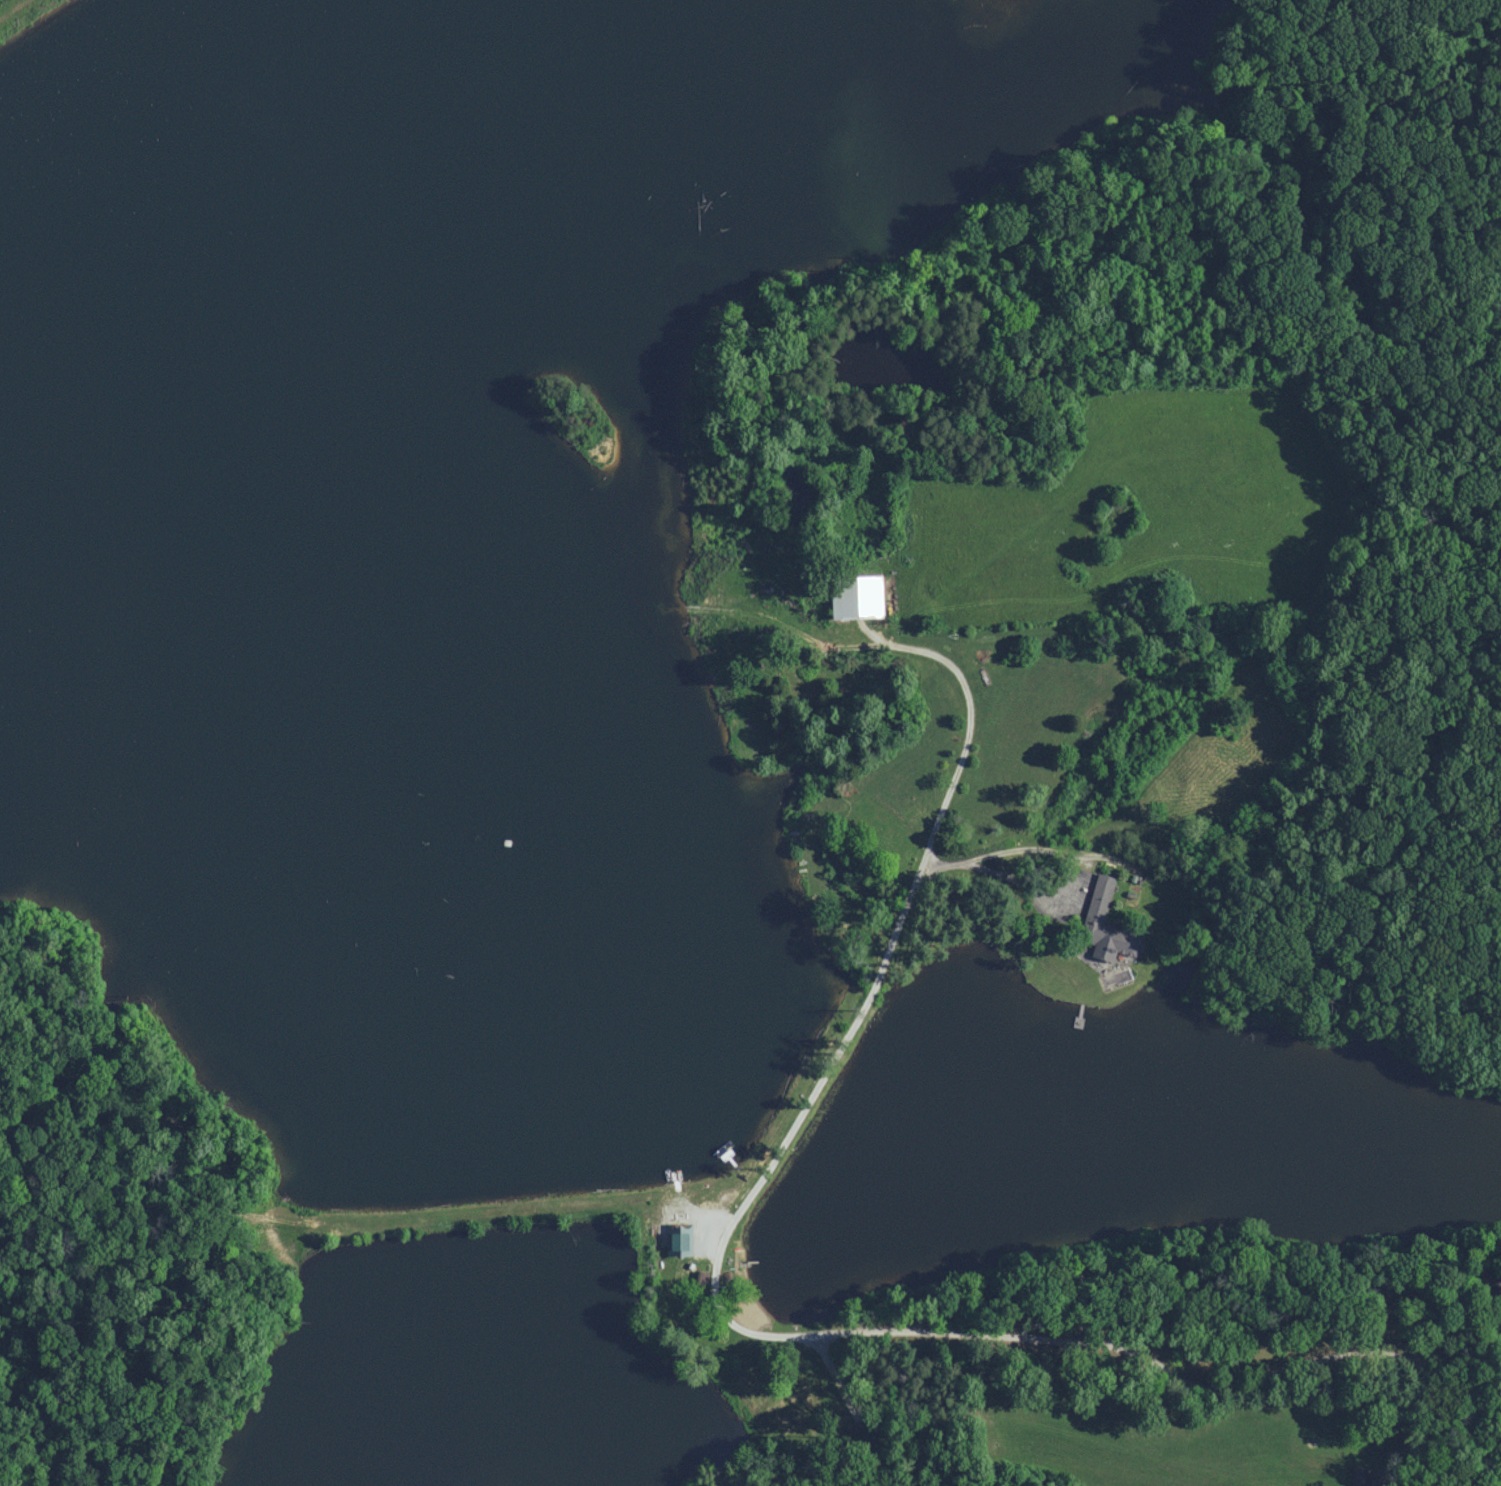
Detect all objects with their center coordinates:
building: (851, 596)
road: (1065, 857)
building: (1097, 900)
road: (868, 1004)
building: (676, 1240)
road: (1174, 1365)

